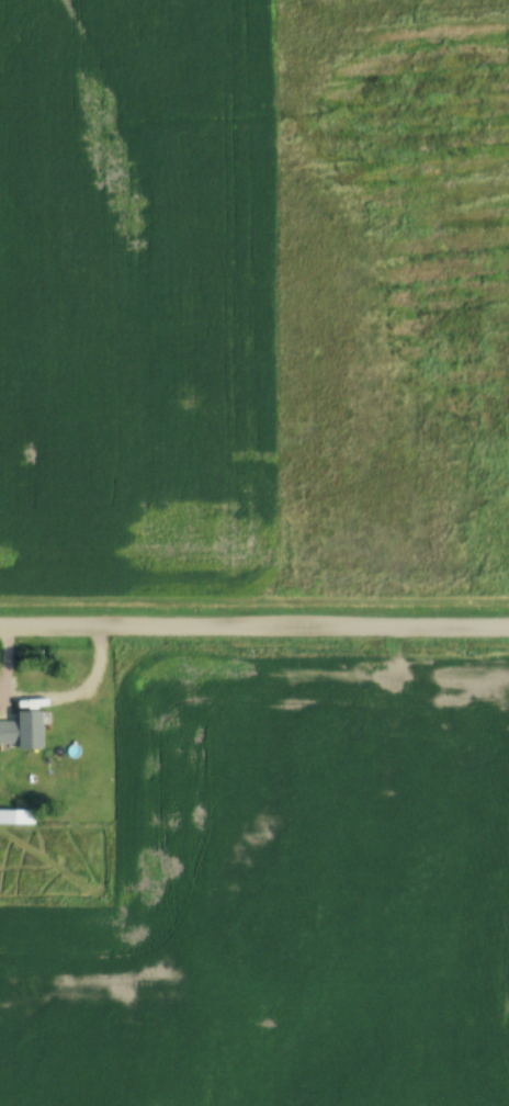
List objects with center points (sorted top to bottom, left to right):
road: (253, 627)
building: (22, 730)
building: (16, 816)

